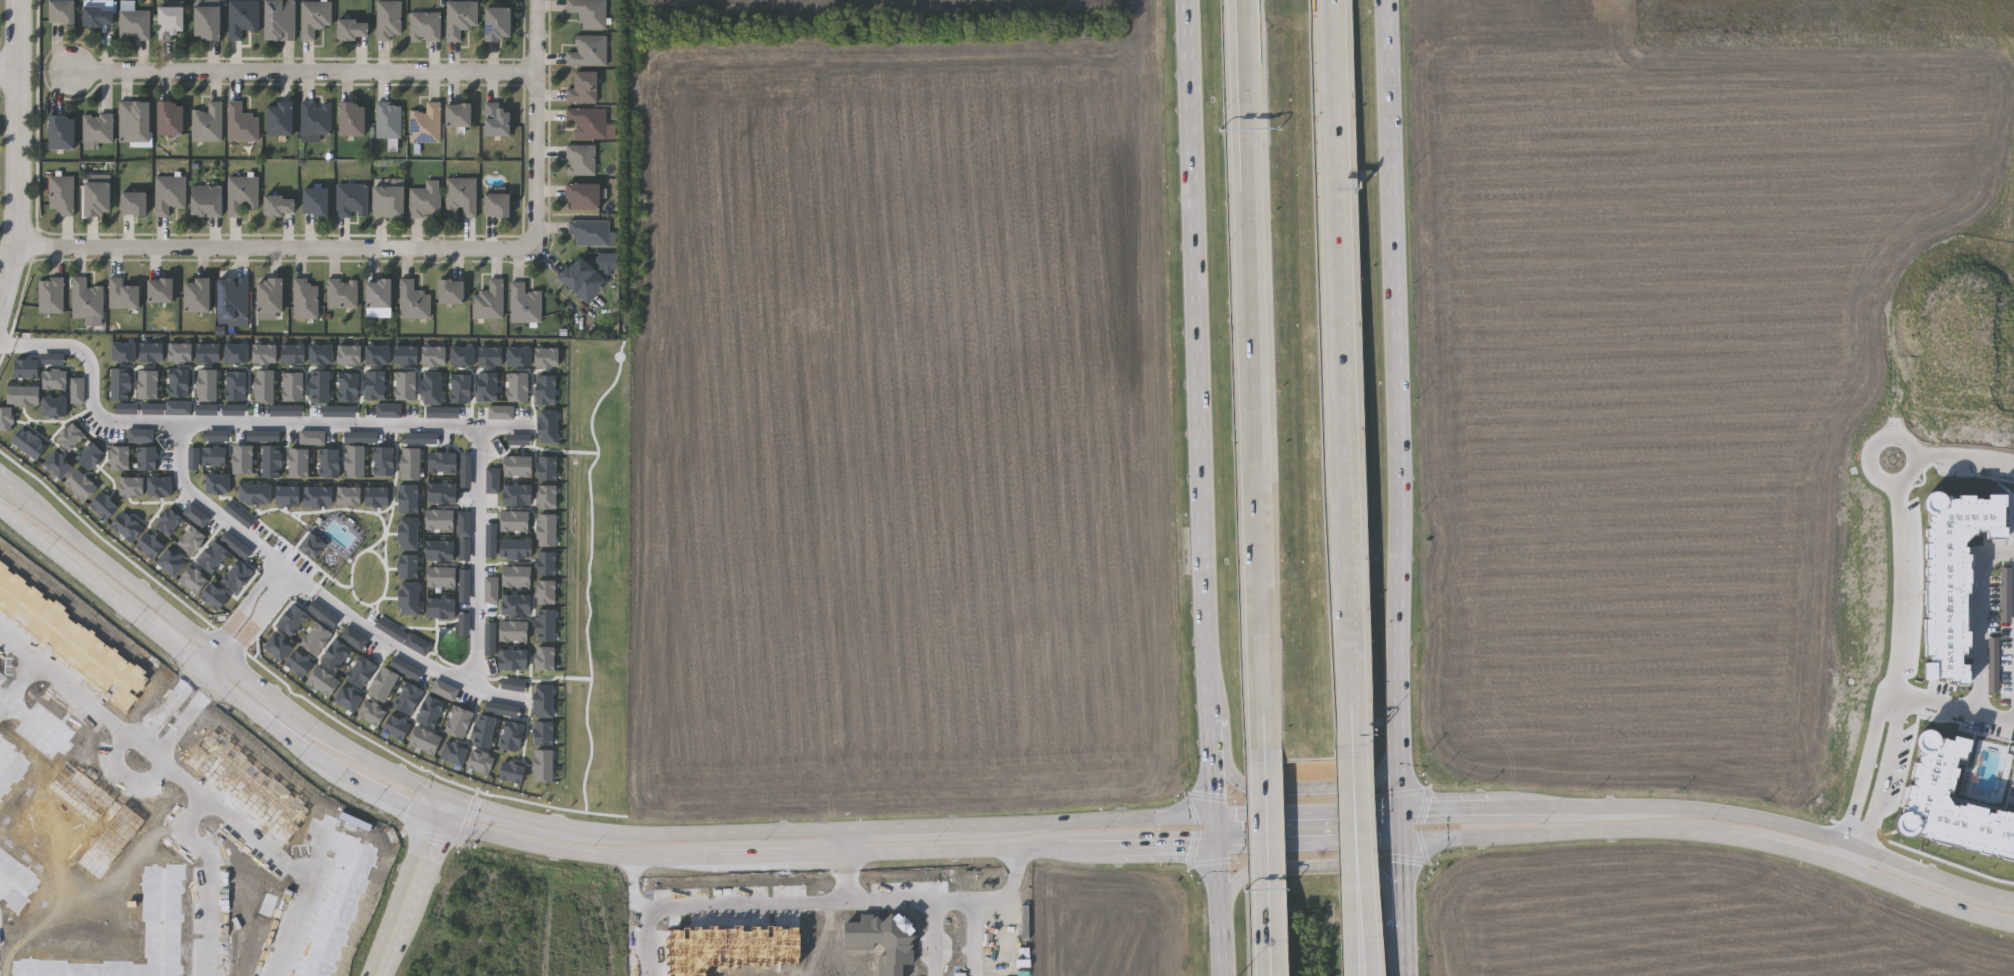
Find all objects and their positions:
building: (63, 11)
building: (588, 12)
building: (99, 15)
building: (314, 16)
building: (242, 17)
building: (459, 17)
road: (1240, 18)
road: (1242, 18)
building: (280, 19)
building: (388, 19)
building: (172, 21)
building: (208, 21)
building: (499, 22)
building: (134, 24)
building: (425, 25)
building: (353, 28)
building: (588, 49)
road: (299, 63)
road: (9, 69)
building: (583, 87)
building: (459, 114)
building: (171, 117)
building: (315, 117)
building: (281, 118)
building: (353, 118)
building: (388, 119)
building: (498, 119)
building: (134, 120)
building: (588, 121)
building: (207, 122)
building: (241, 122)
building: (424, 123)
building: (98, 127)
road: (535, 128)
building: (62, 131)
road: (18, 155)
building: (580, 159)
building: (61, 193)
building: (169, 193)
building: (241, 193)
building: (462, 193)
building: (584, 195)
building: (99, 197)
building: (207, 199)
building: (351, 199)
building: (317, 200)
building: (389, 200)
building: (424, 201)
building: (134, 202)
building: (498, 203)
building: (280, 204)
building: (591, 232)
road: (276, 252)
building: (608, 260)
building: (583, 278)
building: (161, 289)
building: (451, 290)
building: (341, 292)
building: (379, 292)
building: (123, 293)
building: (51, 294)
building: (270, 294)
building: (198, 295)
building: (233, 297)
building: (86, 298)
building: (304, 298)
building: (413, 300)
building: (488, 300)
building: (524, 302)
building: (125, 352)
building: (153, 352)
building: (181, 353)
building: (209, 353)
building: (238, 353)
building: (265, 354)
building: (294, 354)
building: (322, 354)
building: (350, 355)
building: (378, 355)
building: (407, 356)
building: (435, 356)
building: (491, 356)
building: (463, 357)
building: (520, 357)
building: (548, 357)
building: (54, 359)
road: (1197, 359)
building: (28, 368)
building: (56, 380)
road: (1339, 380)
building: (180, 383)
building: (122, 384)
building: (149, 384)
building: (208, 385)
building: (376, 385)
building: (237, 386)
building: (266, 386)
building: (407, 386)
building: (488, 386)
building: (294, 387)
building: (321, 387)
building: (350, 387)
building: (519, 387)
building: (433, 388)
building: (462, 388)
building: (79, 390)
building: (547, 390)
building: (25, 396)
road: (1250, 398)
building: (56, 407)
building: (128, 408)
building: (180, 408)
building: (154, 409)
building: (208, 409)
building: (235, 410)
building: (288, 410)
building: (341, 411)
building: (390, 411)
building: (444, 412)
building: (502, 412)
building: (7, 419)
road: (1398, 421)
road: (140, 422)
road: (494, 423)
building: (549, 427)
building: (218, 435)
building: (142, 436)
building: (264, 436)
building: (72, 437)
building: (361, 437)
building: (313, 438)
building: (422, 438)
building: (520, 439)
building: (30, 444)
building: (92, 456)
building: (215, 456)
building: (121, 458)
building: (148, 458)
building: (195, 459)
building: (244, 459)
building: (356, 461)
building: (385, 461)
building: (273, 462)
building: (443, 462)
building: (300, 463)
building: (331, 463)
building: (412, 464)
building: (59, 465)
building: (519, 466)
building: (549, 468)
building: (467, 471)
building: (494, 480)
building: (219, 483)
building: (82, 485)
road: (481, 485)
road: (8, 486)
building: (133, 486)
building: (161, 487)
building: (443, 493)
building: (256, 494)
building: (518, 495)
building: (289, 496)
building: (350, 496)
building: (319, 497)
building: (378, 497)
building: (548, 497)
building: (410, 499)
building: (105, 506)
road: (210, 508)
building: (198, 515)
building: (240, 515)
building: (441, 519)
building: (516, 521)
building: (170, 522)
building: (465, 524)
building: (128, 527)
building: (548, 530)
road: (1900, 531)
building: (410, 534)
building: (193, 541)
building: (492, 541)
building: (237, 545)
building: (312, 545)
building: (151, 546)
building: (466, 549)
building: (517, 549)
building: (441, 551)
building: (214, 557)
building: (172, 563)
building: (547, 564)
building: (409, 567)
road: (120, 573)
building: (238, 576)
building: (518, 576)
building: (1954, 576)
building: (443, 577)
building: (194, 580)
building: (465, 585)
building: (492, 590)
building: (547, 592)
building: (216, 597)
road: (253, 597)
building: (411, 598)
building: (518, 605)
road: (266, 607)
building: (442, 608)
building: (293, 619)
road: (1982, 622)
building: (466, 625)
building: (547, 625)
building: (515, 631)
road: (229, 638)
building: (355, 638)
building: (317, 639)
building: (491, 639)
road: (235, 644)
building: (419, 644)
road: (397, 646)
building: (279, 647)
road: (226, 650)
building: (337, 655)
building: (546, 659)
building: (514, 660)
building: (300, 664)
road: (215, 665)
building: (407, 668)
building: (362, 672)
road: (250, 676)
road: (210, 677)
road: (204, 679)
road: (23, 681)
building: (325, 681)
building: (515, 684)
building: (384, 685)
road: (74, 689)
building: (446, 690)
road: (4, 697)
building: (349, 699)
building: (410, 699)
building: (545, 701)
road: (4, 705)
road: (169, 706)
road: (1953, 708)
building: (503, 709)
building: (432, 712)
building: (373, 714)
road: (183, 719)
road: (36, 722)
building: (460, 722)
building: (398, 727)
road: (1213, 728)
building: (485, 731)
building: (545, 733)
building: (513, 736)
building: (426, 741)
road: (151, 744)
road: (358, 753)
building: (455, 753)
building: (482, 762)
road: (1867, 765)
building: (544, 766)
road: (1883, 770)
building: (513, 772)
road: (124, 774)
road: (1215, 776)
road: (1420, 788)
road: (1310, 789)
road: (1197, 796)
building: (1951, 802)
traffic signals: (481, 806)
traffic signals: (411, 807)
traffic signals: (1404, 811)
road: (1235, 816)
road: (469, 817)
traffic signals: (1217, 817)
road: (433, 836)
road: (1855, 837)
road: (1353, 838)
traffic signals: (431, 841)
traffic signals: (1405, 842)
road: (196, 844)
road: (1231, 846)
traffic signals: (1218, 847)
road: (319, 850)
road: (1262, 850)
road: (1847, 855)
road: (1424, 858)
road: (1203, 864)
road: (848, 865)
road: (1304, 868)
road: (298, 869)
road: (1405, 874)
road: (414, 885)
road: (1218, 896)
road: (823, 902)
road: (1406, 919)
road: (972, 937)
road: (932, 938)
road: (650, 941)
road: (1357, 946)
road: (1361, 946)
road: (1407, 953)
road: (1264, 958)
road: (1266, 958)

